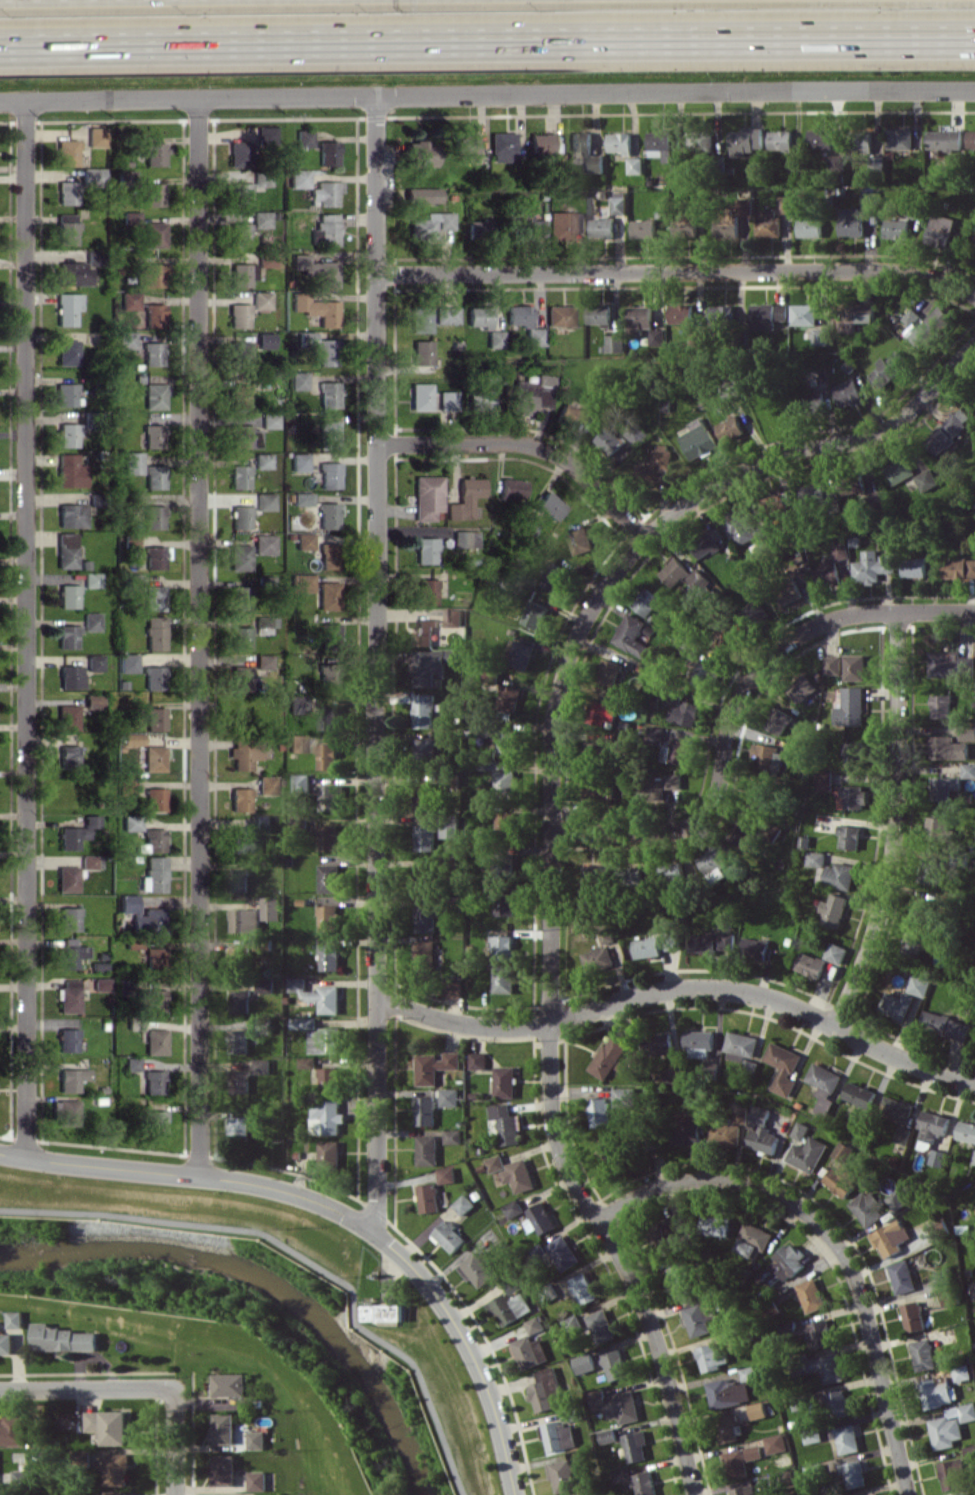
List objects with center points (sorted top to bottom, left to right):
road: (487, 40)
road: (487, 95)
building: (265, 132)
building: (96, 136)
building: (303, 138)
building: (821, 138)
building: (900, 138)
building: (945, 139)
building: (971, 139)
building: (746, 140)
building: (781, 140)
building: (620, 142)
building: (540, 143)
building: (466, 145)
building: (501, 146)
building: (661, 146)
building: (586, 151)
building: (66, 152)
building: (154, 153)
building: (327, 153)
building: (418, 153)
building: (238, 154)
building: (837, 163)
building: (677, 164)
building: (795, 164)
building: (635, 165)
building: (91, 176)
building: (297, 178)
building: (261, 179)
building: (67, 192)
building: (328, 192)
building: (240, 193)
building: (151, 194)
building: (421, 194)
building: (869, 200)
building: (619, 202)
building: (702, 202)
building: (786, 204)
building: (745, 206)
building: (131, 218)
building: (260, 219)
building: (580, 221)
building: (851, 222)
building: (768, 223)
building: (429, 224)
building: (560, 225)
building: (478, 227)
building: (602, 227)
building: (810, 227)
building: (66, 228)
building: (537, 228)
building: (643, 228)
building: (727, 228)
building: (896, 228)
building: (324, 229)
building: (940, 229)
building: (153, 234)
building: (239, 234)
building: (91, 257)
building: (316, 269)
road: (676, 270)
building: (73, 273)
building: (150, 274)
building: (242, 274)
building: (260, 299)
building: (129, 300)
building: (67, 308)
building: (316, 308)
building: (781, 311)
building: (599, 313)
building: (681, 313)
building: (153, 314)
building: (445, 314)
building: (722, 314)
building: (803, 314)
building: (238, 315)
building: (558, 315)
building: (856, 315)
building: (478, 316)
building: (762, 316)
building: (910, 316)
building: (640, 318)
building: (419, 319)
building: (523, 323)
building: (928, 326)
building: (657, 336)
building: (822, 336)
building: (306, 338)
building: (494, 338)
building: (126, 339)
building: (265, 340)
building: (616, 343)
building: (326, 351)
building: (67, 352)
building: (420, 352)
building: (153, 353)
building: (240, 353)
building: (888, 368)
building: (297, 380)
building: (848, 393)
building: (66, 394)
building: (327, 394)
building: (531, 394)
building: (154, 395)
building: (240, 395)
building: (419, 396)
building: (480, 399)
building: (446, 400)
building: (813, 402)
building: (569, 415)
building: (730, 428)
building: (948, 430)
building: (68, 434)
building: (326, 434)
building: (152, 436)
building: (245, 436)
building: (698, 439)
building: (611, 442)
road: (524, 444)
road: (814, 449)
building: (261, 460)
building: (132, 462)
building: (298, 462)
building: (656, 464)
building: (69, 470)
building: (899, 470)
building: (328, 475)
building: (153, 476)
building: (239, 476)
building: (927, 479)
building: (854, 487)
building: (511, 488)
building: (814, 492)
building: (426, 496)
building: (300, 498)
building: (464, 498)
building: (264, 501)
building: (548, 505)
building: (71, 515)
building: (326, 515)
building: (152, 516)
building: (240, 517)
building: (742, 525)
building: (464, 538)
building: (580, 539)
building: (303, 541)
building: (708, 542)
building: (263, 543)
building: (65, 549)
building: (424, 549)
building: (327, 555)
building: (154, 556)
building: (238, 557)
building: (832, 565)
building: (873, 565)
building: (914, 566)
building: (959, 568)
building: (675, 572)
building: (556, 578)
building: (91, 579)
building: (698, 580)
building: (300, 582)
building: (425, 590)
building: (790, 594)
building: (68, 595)
building: (327, 595)
building: (153, 597)
building: (240, 597)
building: (647, 602)
building: (756, 610)
building: (535, 614)
building: (453, 617)
building: (90, 621)
building: (264, 624)
road: (22, 628)
building: (154, 632)
building: (424, 632)
building: (328, 635)
building: (632, 635)
building: (66, 636)
road: (197, 637)
building: (239, 637)
building: (690, 648)
building: (521, 655)
building: (262, 661)
building: (92, 662)
building: (126, 662)
building: (951, 663)
road: (375, 664)
building: (833, 664)
building: (432, 665)
building: (855, 667)
building: (608, 671)
building: (329, 674)
building: (702, 675)
building: (70, 676)
building: (152, 677)
building: (240, 678)
building: (802, 688)
building: (509, 696)
building: (673, 696)
building: (92, 701)
road: (736, 701)
building: (941, 705)
building: (851, 707)
building: (424, 710)
building: (602, 712)
building: (685, 712)
building: (329, 716)
building: (66, 717)
building: (153, 718)
building: (779, 720)
building: (967, 732)
building: (654, 734)
building: (131, 739)
building: (295, 742)
building: (508, 742)
building: (425, 747)
building: (948, 748)
building: (676, 751)
building: (243, 752)
building: (856, 754)
building: (327, 755)
building: (67, 756)
building: (768, 756)
building: (152, 758)
building: (968, 770)
building: (674, 780)
building: (825, 780)
building: (505, 781)
building: (301, 783)
building: (265, 785)
building: (124, 786)
building: (946, 786)
building: (599, 789)
building: (655, 789)
building: (424, 796)
building: (855, 796)
building: (330, 797)
building: (153, 799)
building: (239, 799)
building: (508, 819)
building: (130, 822)
building: (298, 823)
road: (896, 825)
building: (938, 826)
building: (449, 830)
building: (747, 831)
building: (75, 832)
building: (850, 836)
building: (328, 837)
building: (426, 837)
building: (153, 839)
building: (241, 839)
building: (817, 858)
building: (87, 861)
building: (714, 863)
building: (677, 870)
building: (152, 874)
building: (636, 874)
building: (841, 875)
building: (329, 877)
building: (423, 877)
building: (66, 878)
building: (240, 880)
building: (505, 904)
building: (271, 908)
building: (833, 910)
building: (142, 915)
building: (68, 918)
building: (328, 918)
building: (425, 919)
building: (246, 920)
building: (673, 941)
building: (712, 942)
building: (916, 943)
building: (503, 947)
building: (648, 947)
building: (756, 948)
building: (69, 953)
building: (836, 953)
building: (425, 955)
building: (154, 957)
building: (238, 957)
building: (330, 957)
building: (598, 957)
building: (811, 964)
building: (504, 978)
building: (100, 984)
building: (266, 984)
building: (920, 985)
building: (453, 986)
road: (680, 987)
building: (68, 995)
building: (318, 995)
building: (151, 999)
building: (241, 1001)
building: (897, 1004)
road: (552, 1018)
building: (303, 1022)
building: (134, 1023)
building: (261, 1025)
building: (946, 1025)
building: (66, 1040)
building: (324, 1040)
building: (154, 1041)
building: (240, 1041)
building: (700, 1042)
building: (663, 1043)
building: (741, 1046)
building: (608, 1056)
building: (478, 1060)
building: (307, 1062)
building: (130, 1063)
building: (262, 1066)
building: (435, 1066)
building: (784, 1067)
building: (71, 1078)
building: (328, 1078)
building: (152, 1081)
building: (241, 1081)
building: (505, 1082)
building: (825, 1084)
building: (860, 1095)
building: (624, 1096)
building: (450, 1097)
building: (897, 1109)
building: (426, 1110)
building: (65, 1112)
building: (599, 1112)
building: (740, 1113)
building: (761, 1115)
building: (326, 1116)
building: (155, 1121)
building: (507, 1123)
building: (933, 1125)
building: (239, 1127)
building: (689, 1127)
building: (801, 1130)
building: (967, 1131)
building: (725, 1133)
building: (904, 1135)
building: (453, 1136)
building: (764, 1139)
building: (611, 1147)
building: (427, 1150)
building: (329, 1151)
building: (844, 1151)
building: (808, 1154)
building: (938, 1158)
building: (974, 1161)
building: (496, 1163)
building: (447, 1175)
building: (519, 1175)
building: (843, 1178)
building: (429, 1197)
building: (898, 1199)
building: (464, 1204)
building: (514, 1208)
building: (868, 1208)
road: (341, 1210)
building: (540, 1219)
building: (716, 1225)
building: (676, 1228)
building: (450, 1236)
building: (890, 1237)
building: (754, 1240)
road: (834, 1240)
building: (563, 1253)
road: (302, 1255)
building: (786, 1263)
building: (478, 1270)
building: (902, 1276)
building: (681, 1278)
river: (265, 1284)
building: (584, 1288)
building: (974, 1289)
building: (811, 1295)
building: (510, 1307)
building: (386, 1312)
building: (913, 1316)
building: (701, 1317)
building: (16, 1319)
building: (535, 1324)
building: (573, 1324)
building: (602, 1326)
building: (818, 1332)
building: (63, 1338)
building: (7, 1343)
building: (531, 1351)
building: (924, 1354)
building: (712, 1356)
building: (586, 1363)
building: (616, 1364)
building: (823, 1367)
building: (752, 1372)
building: (962, 1372)
building: (229, 1384)
road: (87, 1389)
building: (547, 1389)
building: (728, 1392)
building: (937, 1393)
building: (837, 1403)
building: (617, 1404)
building: (758, 1410)
building: (62, 1421)
building: (108, 1425)
building: (951, 1425)
building: (223, 1428)
building: (728, 1429)
building: (12, 1430)
building: (560, 1435)
building: (609, 1435)
building: (847, 1438)
building: (256, 1439)
road: (174, 1441)
building: (776, 1443)
building: (636, 1445)
building: (970, 1450)
building: (754, 1452)
building: (737, 1463)
building: (117, 1469)
building: (223, 1470)
building: (854, 1473)
building: (952, 1473)
building: (622, 1475)
building: (23, 1476)
building: (563, 1476)
building: (257, 1480)
building: (646, 1483)
building: (744, 1490)
building: (116, 1492)
building: (962, 1493)
building: (0, 1494)
building: (263, 1494)
building: (868, 1494)

